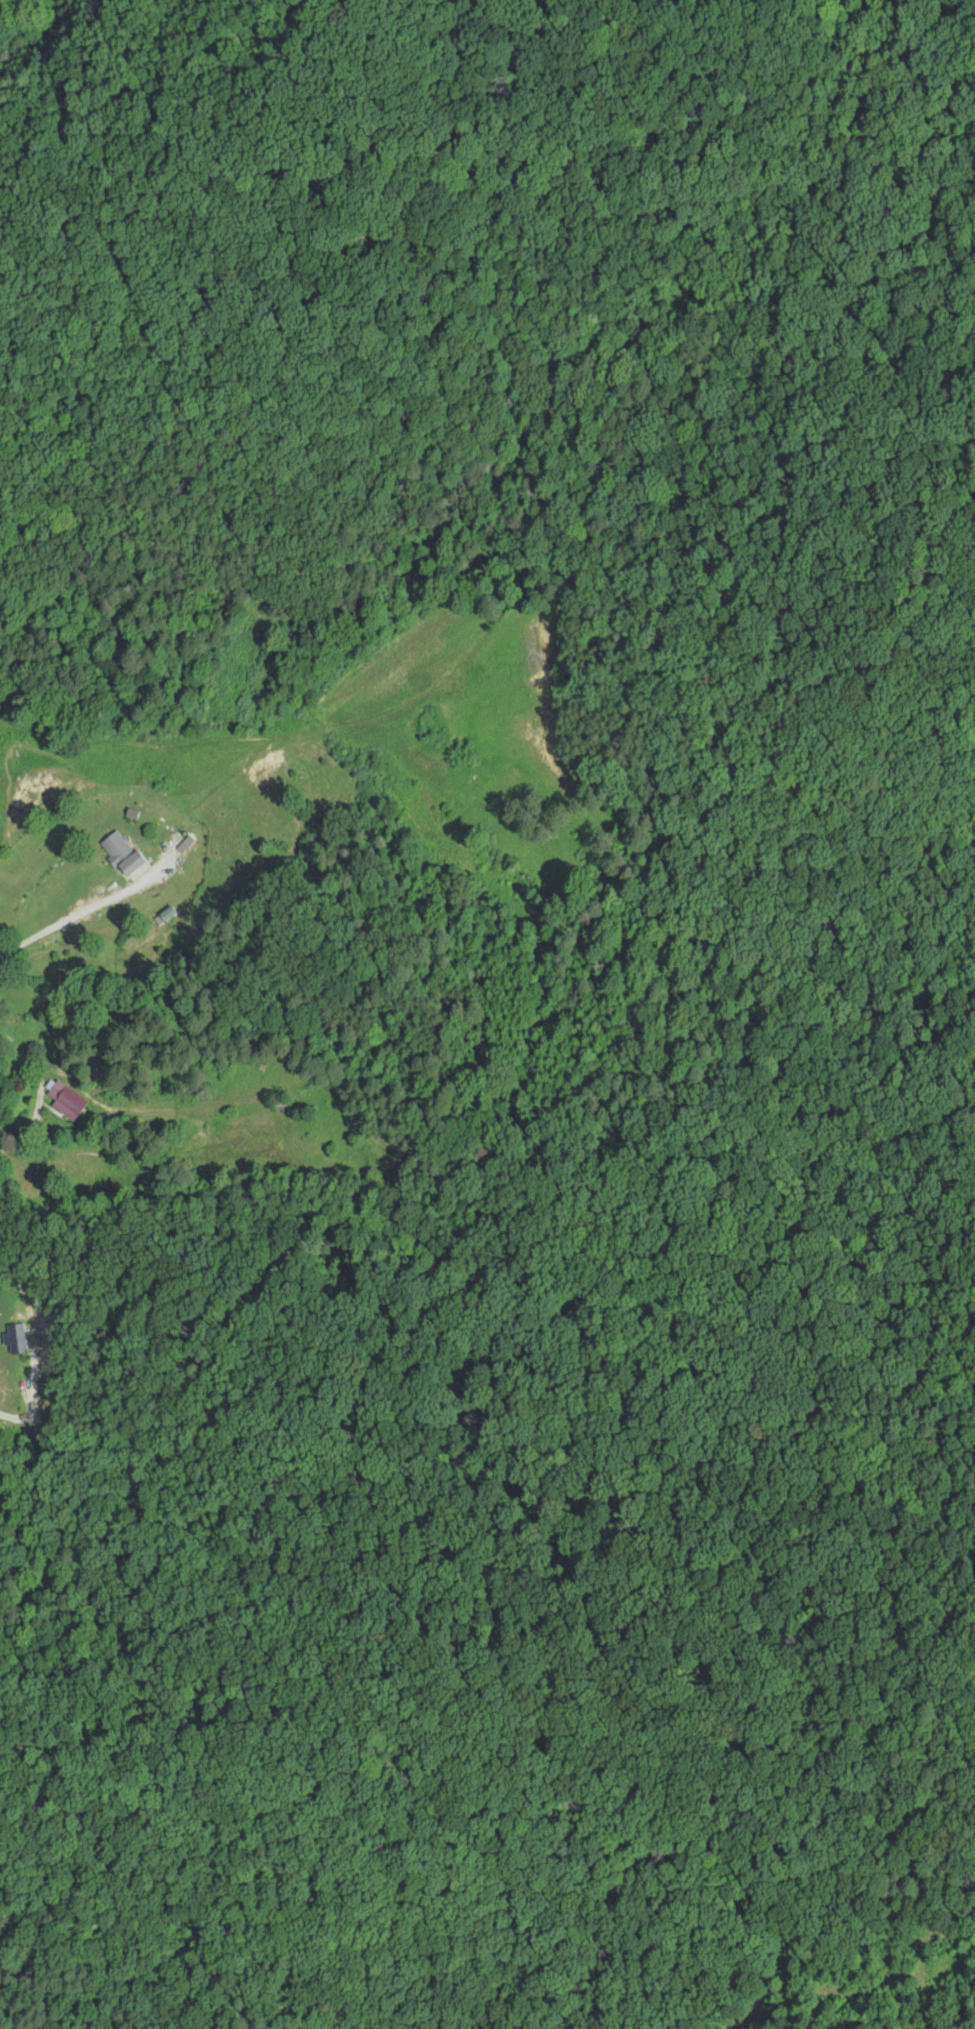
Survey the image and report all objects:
building: (128, 854)
building: (68, 1103)
building: (19, 1338)

